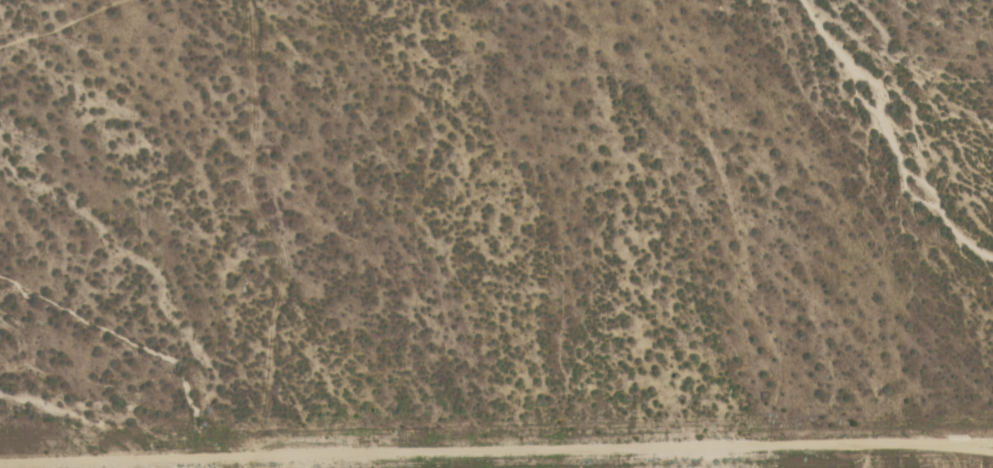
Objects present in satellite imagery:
road: (496, 452)

